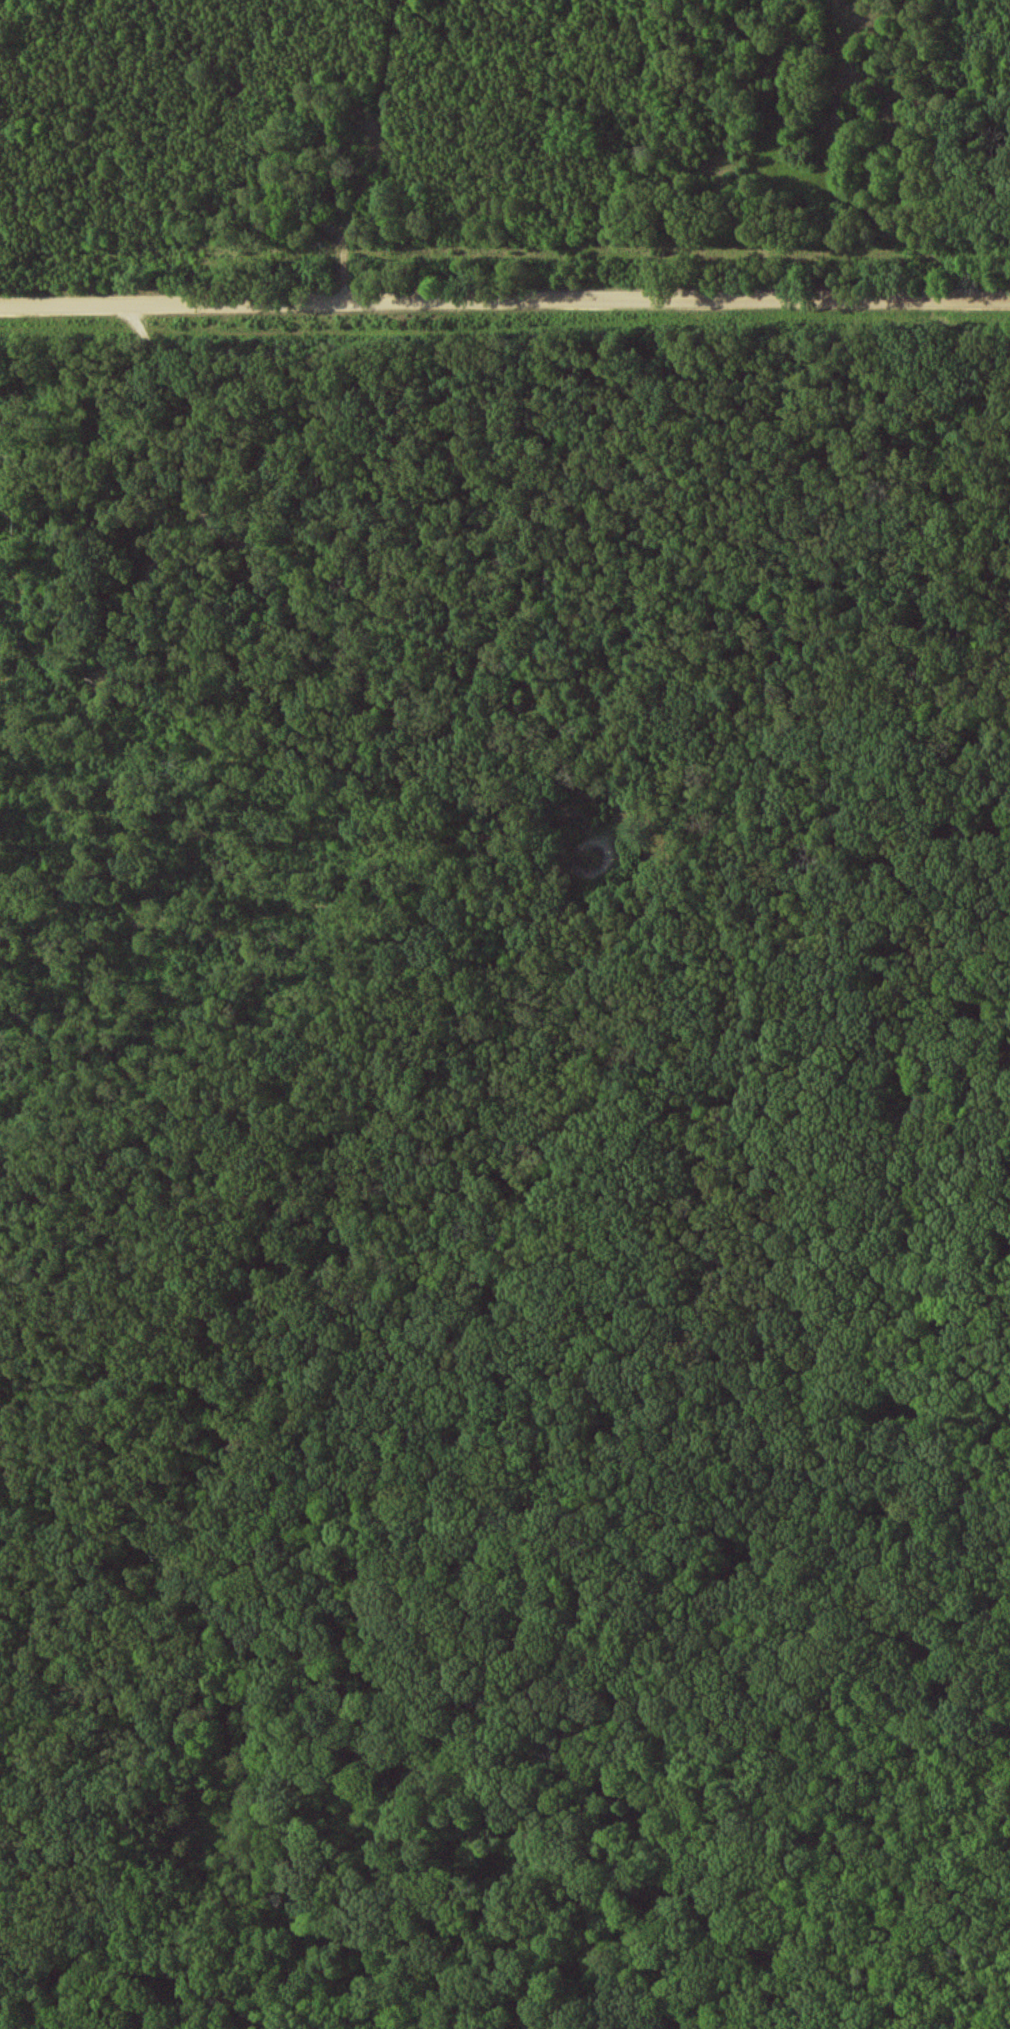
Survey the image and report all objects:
road: (504, 303)

